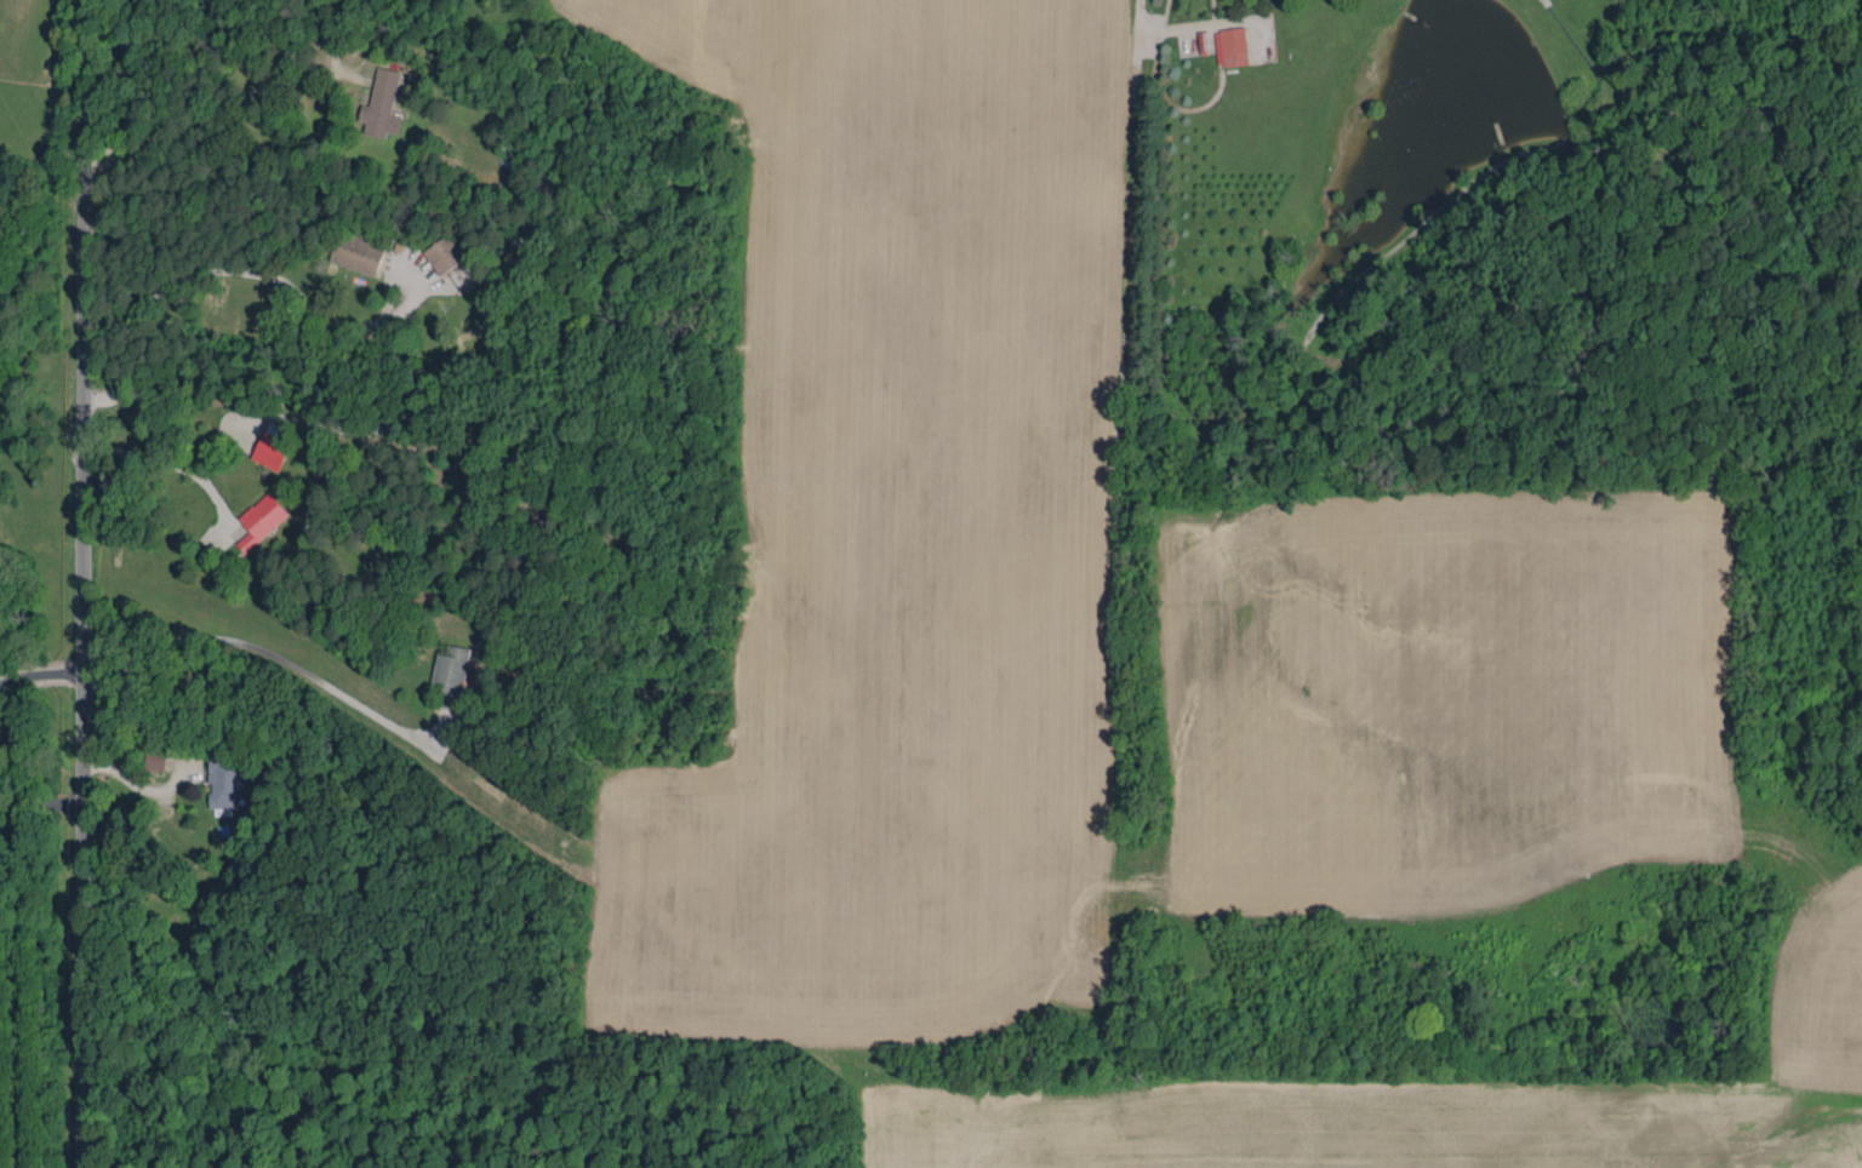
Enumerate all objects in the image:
road: (1152, 23)
building: (1230, 46)
building: (382, 104)
road: (219, 107)
building: (356, 253)
building: (442, 256)
road: (228, 270)
building: (270, 447)
road: (171, 464)
building: (259, 520)
road: (82, 583)
building: (451, 669)
road: (40, 674)
building: (155, 760)
building: (223, 780)
road: (138, 785)
road: (39, 801)

